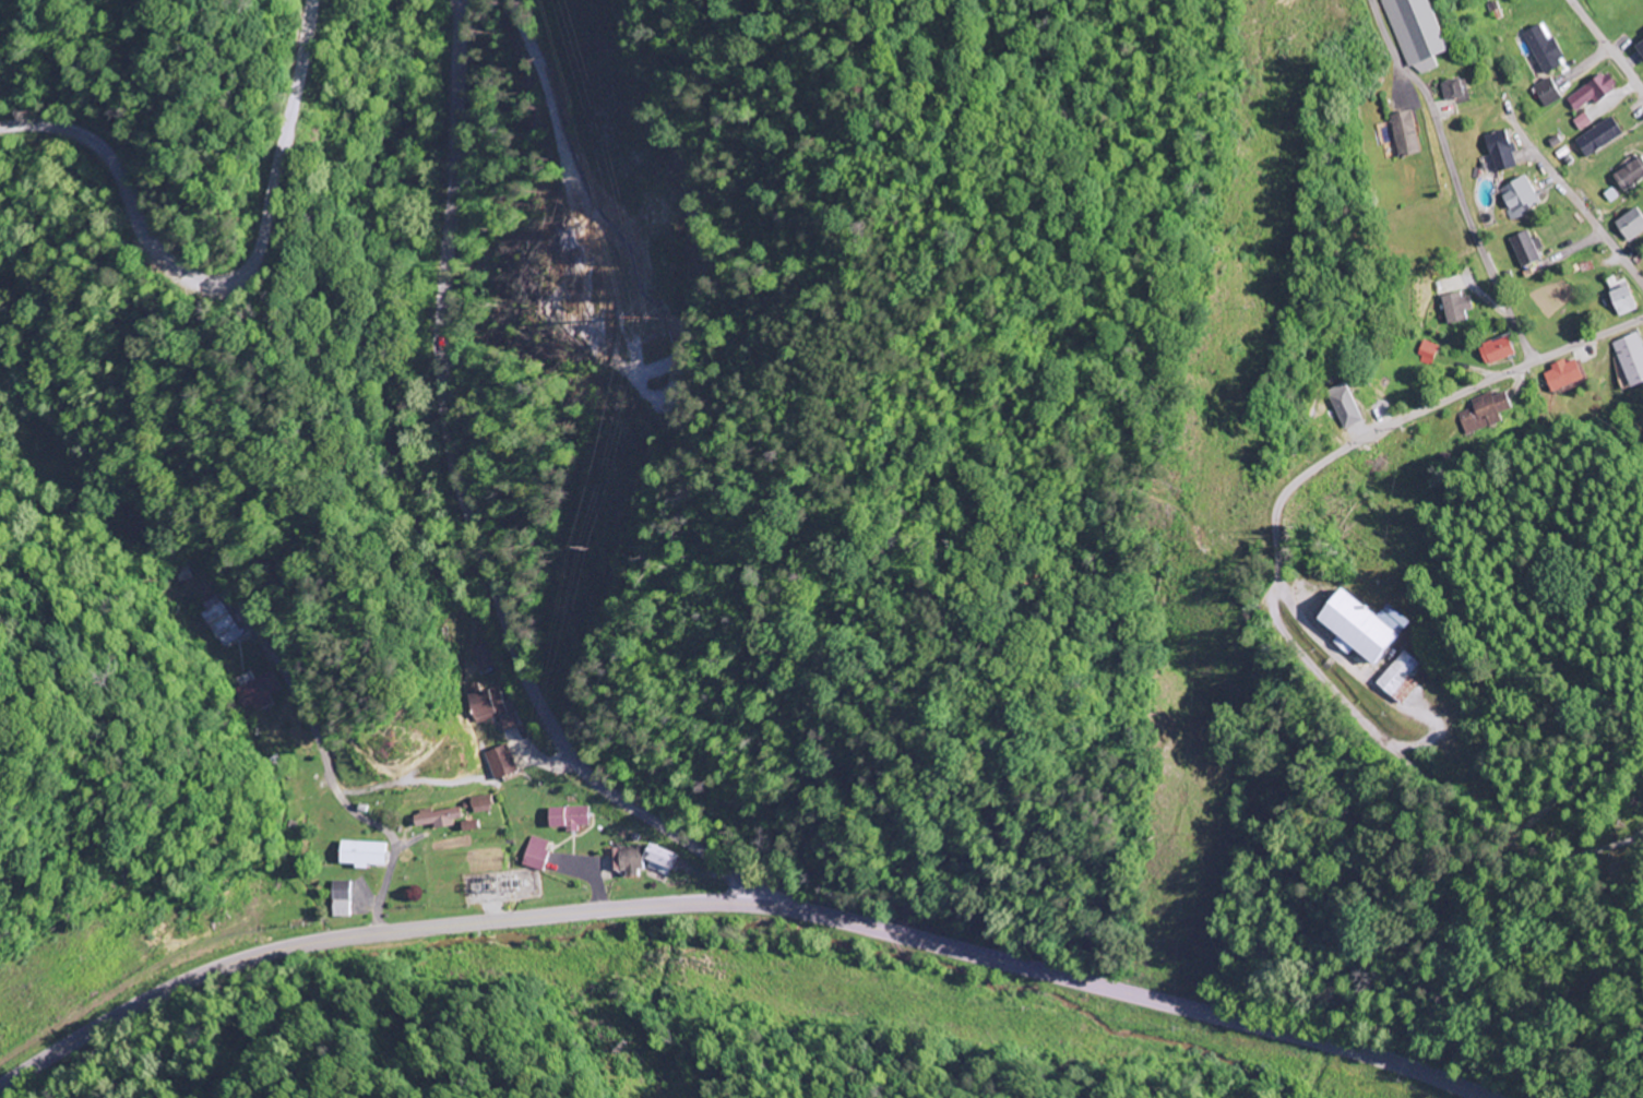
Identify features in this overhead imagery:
road: (1606, 47)
road: (1453, 179)
road: (1575, 198)
road: (228, 279)
road: (439, 368)
road: (1274, 586)
road: (334, 786)
road: (1569, 789)
road: (645, 816)
building: (568, 819)
building: (536, 854)
building: (659, 861)
road: (737, 904)

